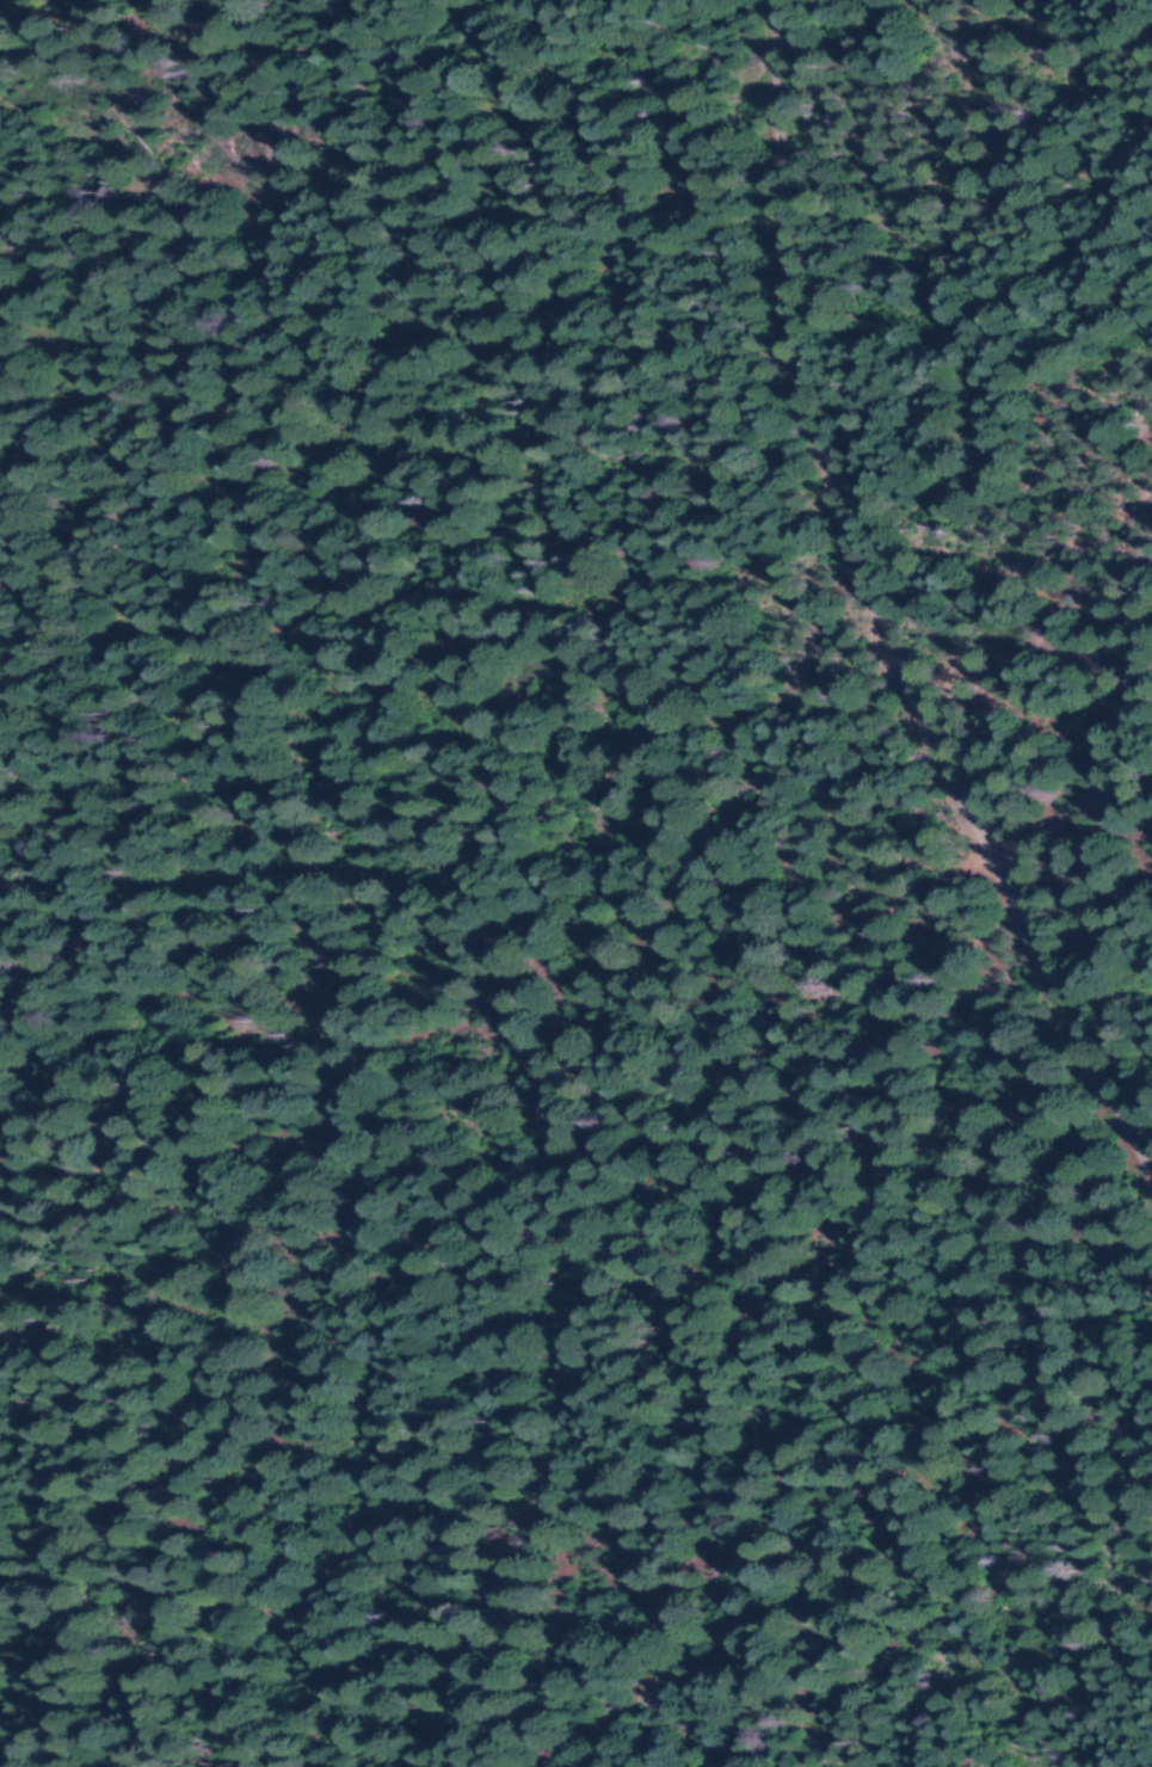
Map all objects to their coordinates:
road: (875, 615)
road: (66, 1638)

